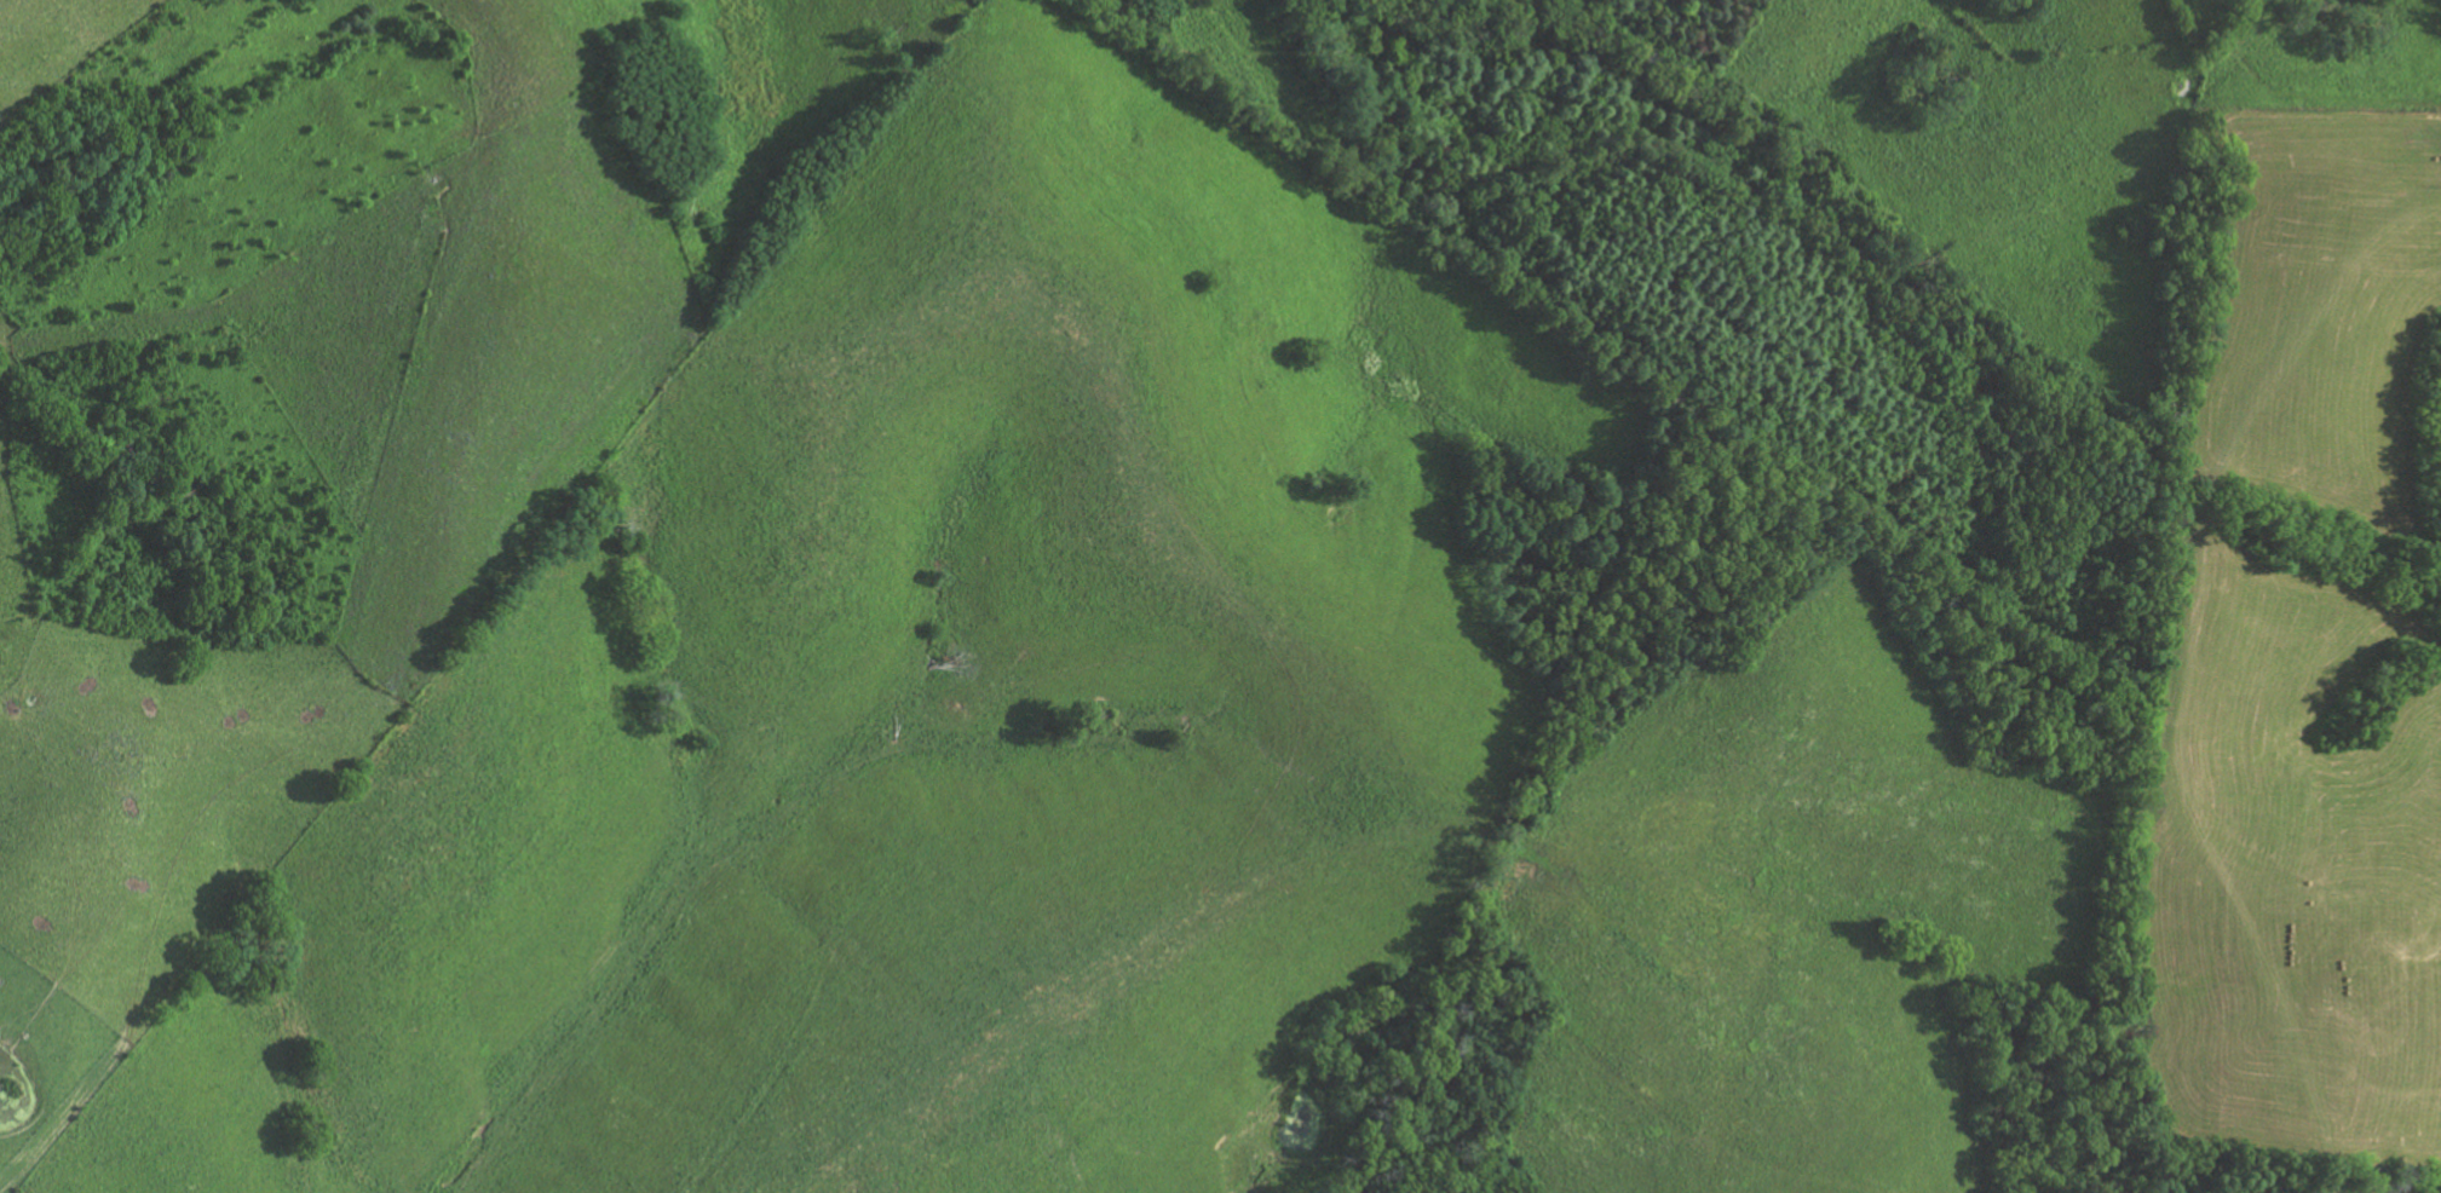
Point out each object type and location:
road: (2319, 91)

